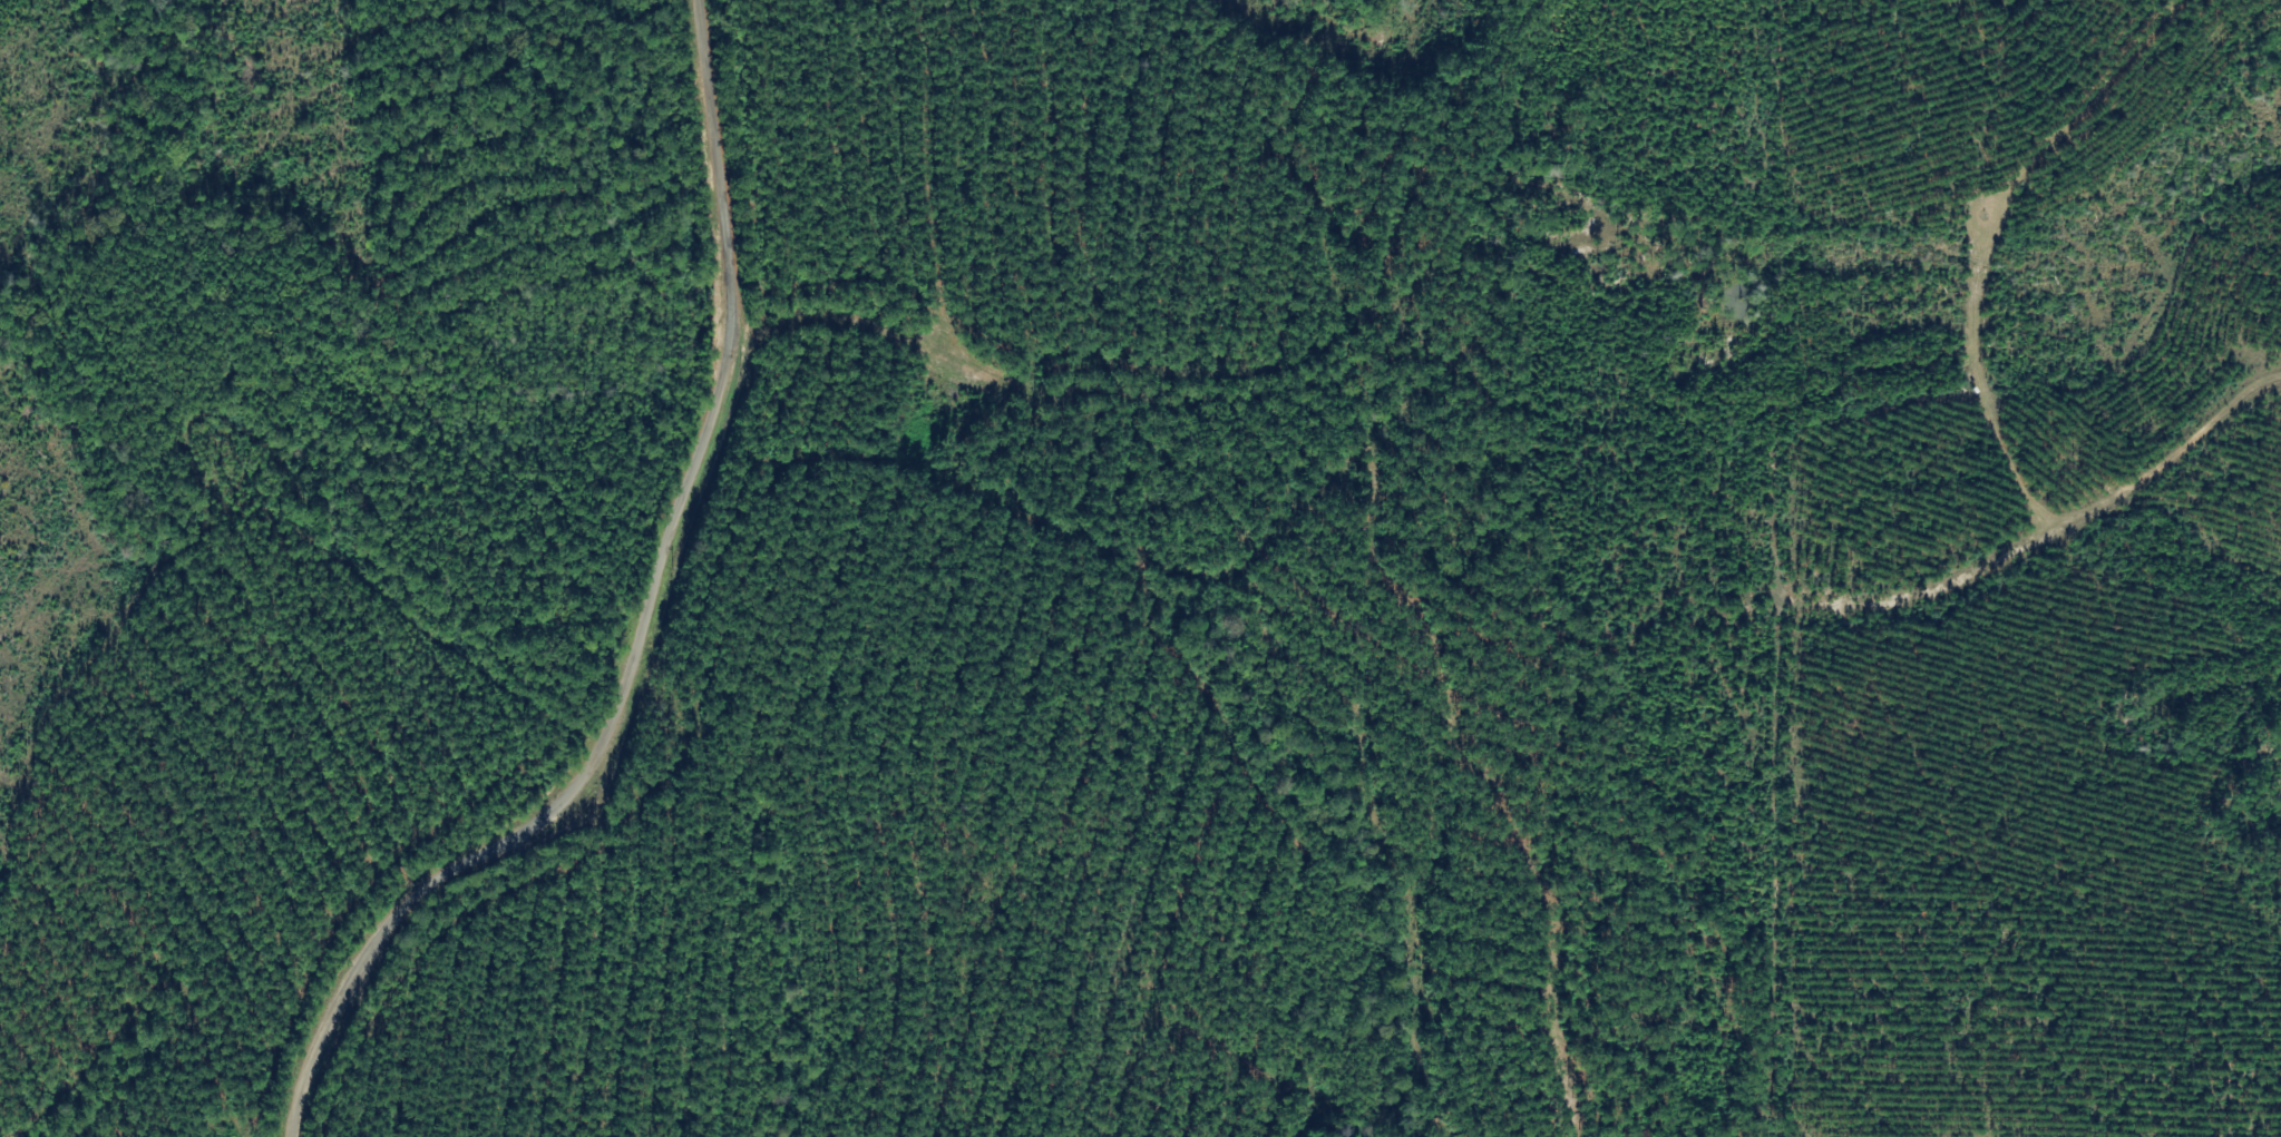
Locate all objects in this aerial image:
road: (573, 624)

